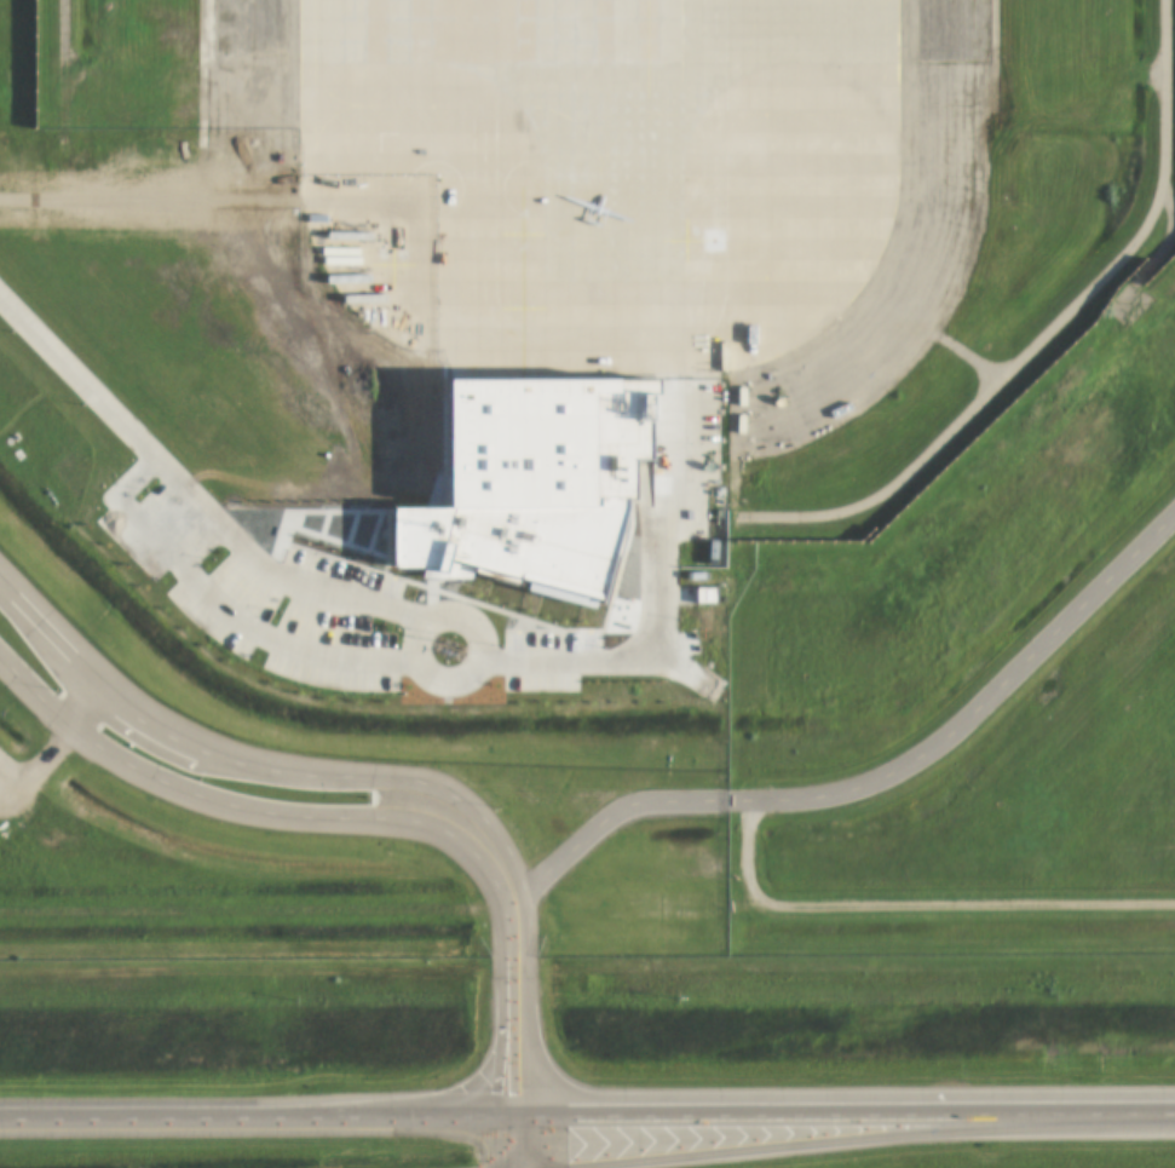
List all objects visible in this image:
airport apron: (591, 171)
airport: (575, 359)
road: (184, 482)
building: (528, 490)
road: (277, 625)
road: (603, 660)
road: (106, 703)
road: (877, 776)
road: (479, 841)
road: (587, 1089)
road: (518, 1128)

